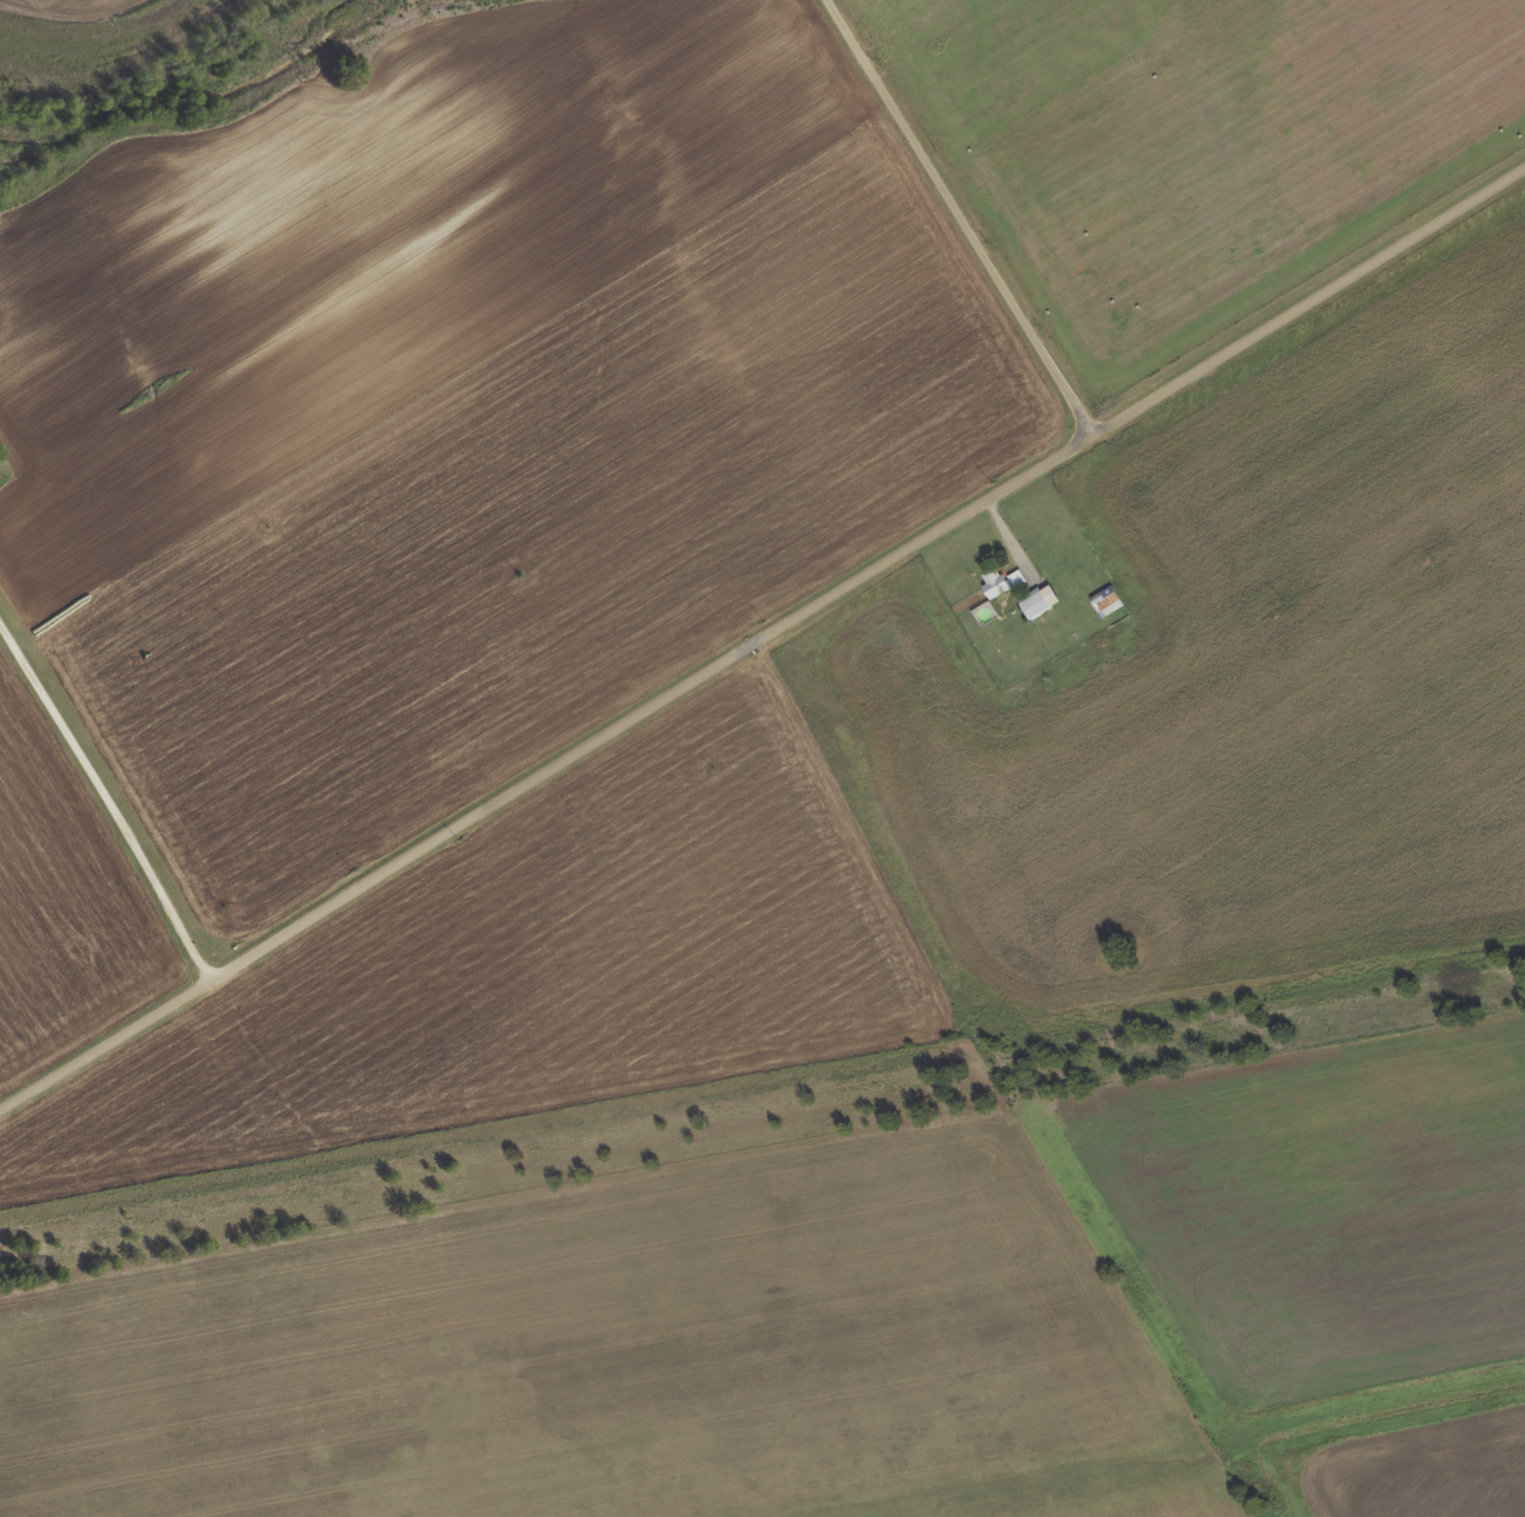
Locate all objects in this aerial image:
road: (965, 215)
building: (1017, 578)
building: (994, 582)
building: (1106, 601)
building: (1034, 605)
road: (764, 637)

